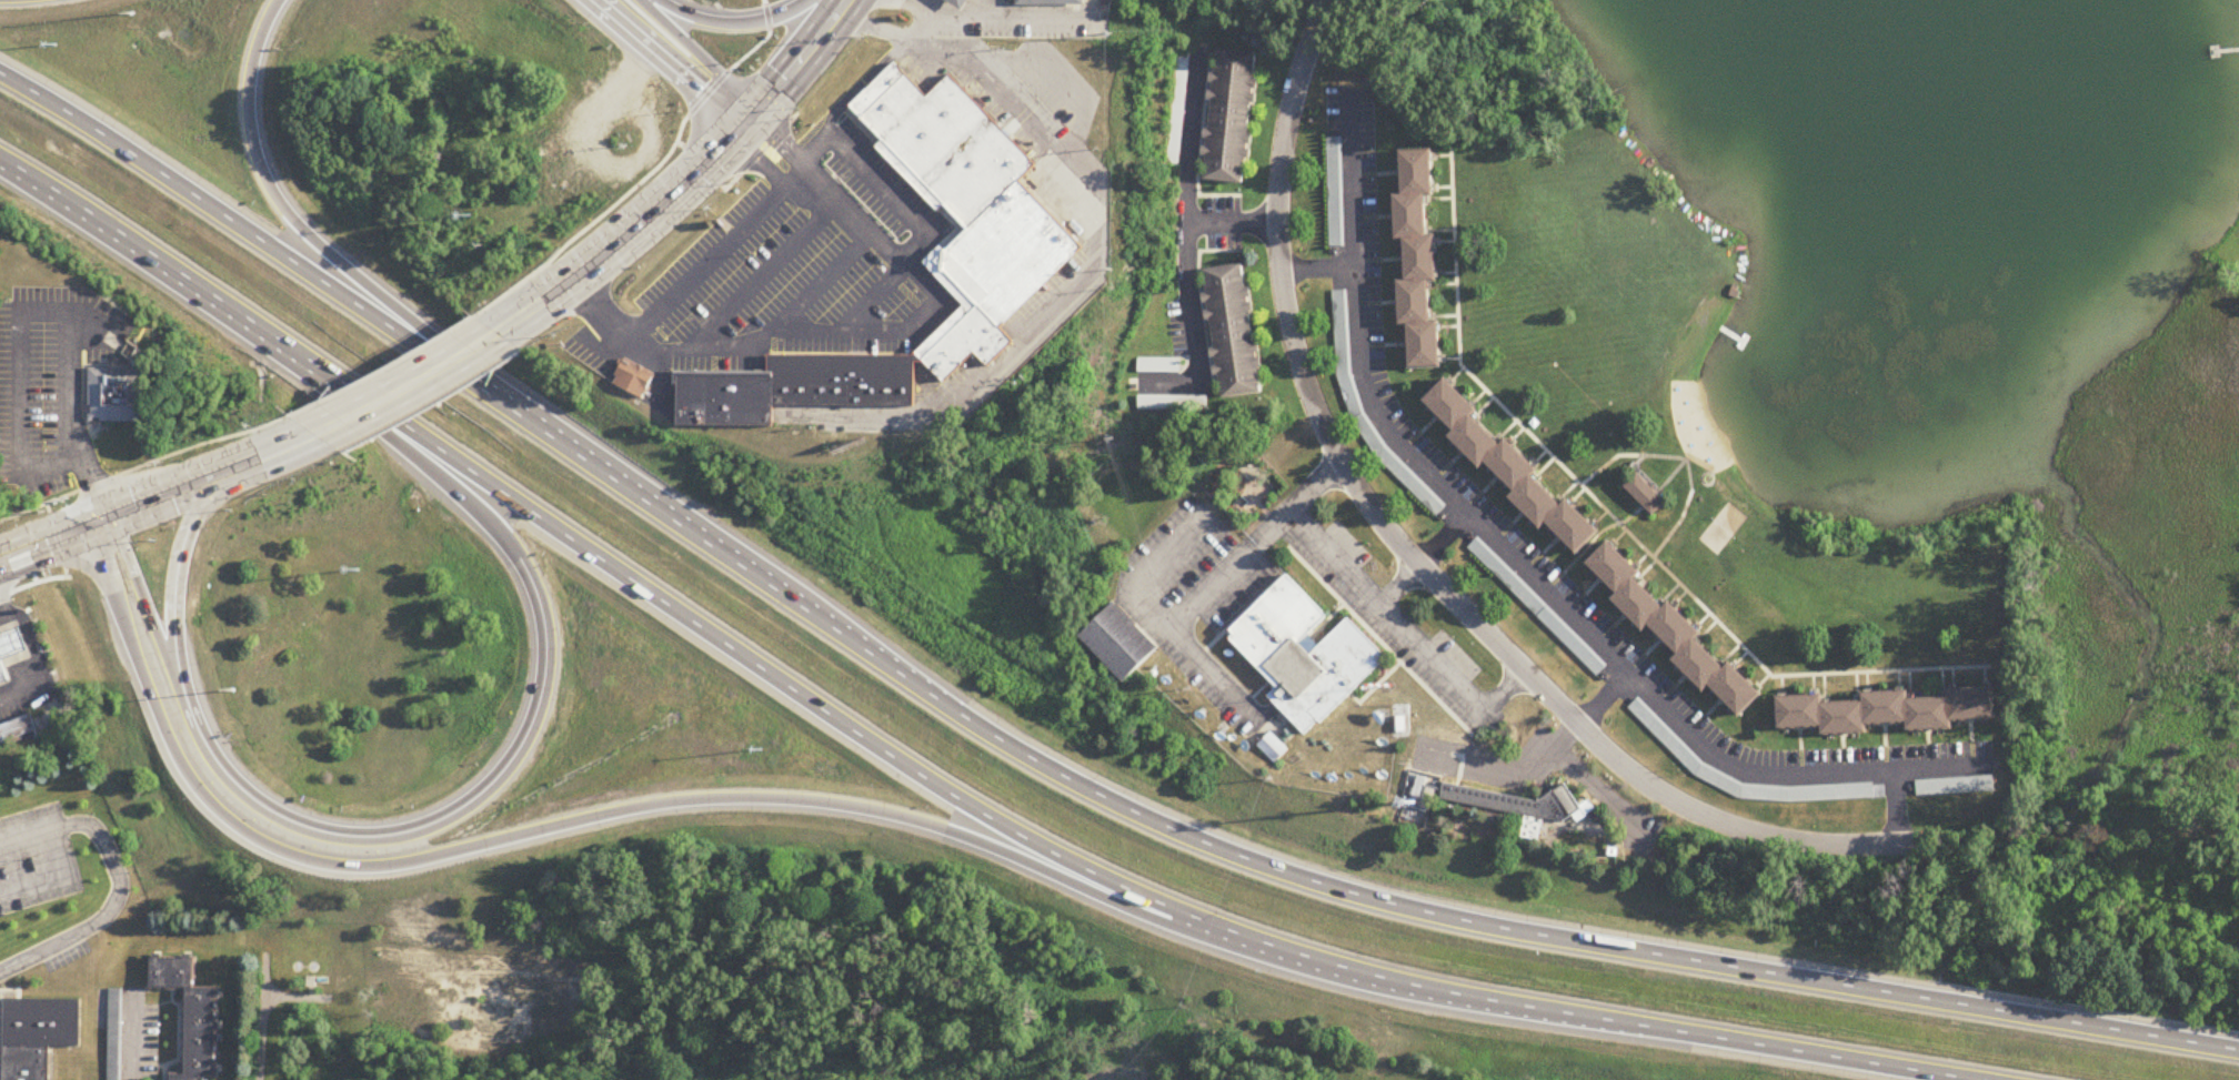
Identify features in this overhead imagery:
building: (1052, 2)
building: (962, 3)
road: (918, 6)
road: (987, 7)
road: (1005, 13)
road: (730, 24)
road: (699, 52)
road: (674, 62)
road: (863, 81)
traffic signals: (755, 112)
building: (1231, 117)
traffic signals: (736, 132)
road: (782, 142)
road: (810, 153)
road: (762, 162)
road: (267, 172)
road: (737, 173)
road: (646, 174)
road: (685, 180)
building: (1335, 191)
road: (891, 198)
road: (1233, 224)
building: (1017, 240)
road: (1094, 244)
road: (1186, 253)
road: (712, 258)
building: (1419, 259)
road: (1318, 269)
road: (762, 275)
road: (820, 283)
road: (872, 299)
road: (845, 331)
building: (1233, 331)
building: (1345, 351)
road: (1459, 364)
road: (381, 366)
building: (1158, 366)
road: (108, 367)
road: (20, 373)
parking lot: (47, 377)
building: (635, 378)
road: (84, 380)
road: (406, 383)
building: (118, 396)
building: (1172, 404)
road: (71, 418)
road: (92, 434)
road: (1683, 460)
road: (142, 463)
building: (1512, 470)
road: (201, 482)
building: (1646, 495)
traffic signals: (107, 518)
road: (495, 522)
traffic signals: (86, 526)
park: (1721, 526)
road: (56, 538)
road: (42, 541)
road: (1444, 541)
road: (1255, 546)
road: (1171, 553)
road: (1580, 555)
road: (1417, 564)
road: (173, 567)
road: (1527, 574)
road: (33, 581)
road: (1398, 584)
road: (1259, 598)
road: (4, 605)
road: (1387, 612)
road: (147, 614)
road: (1238, 616)
road: (1326, 622)
building: (1674, 633)
road: (1227, 634)
road: (1378, 642)
building: (12, 643)
building: (1118, 644)
building: (1303, 655)
road: (1195, 658)
road: (38, 665)
building: (3, 673)
road: (1770, 675)
road: (1383, 678)
road: (1257, 693)
road: (1504, 693)
road: (1603, 698)
building: (1888, 711)
building: (17, 731)
building: (1666, 737)
road: (1035, 760)
road: (1506, 769)
road: (916, 770)
building: (1955, 786)
building: (1419, 788)
building: (1518, 806)
road: (1897, 807)
road: (596, 821)
road: (428, 825)
road: (2158, 825)
road: (2045, 830)
road: (1967, 837)
parking lot: (28, 860)
road: (53, 872)
road: (119, 882)
parking lot: (66, 955)
road: (295, 996)
building: (192, 1015)
road: (261, 1015)
road: (131, 1033)
building: (114, 1034)
building: (38, 1036)

